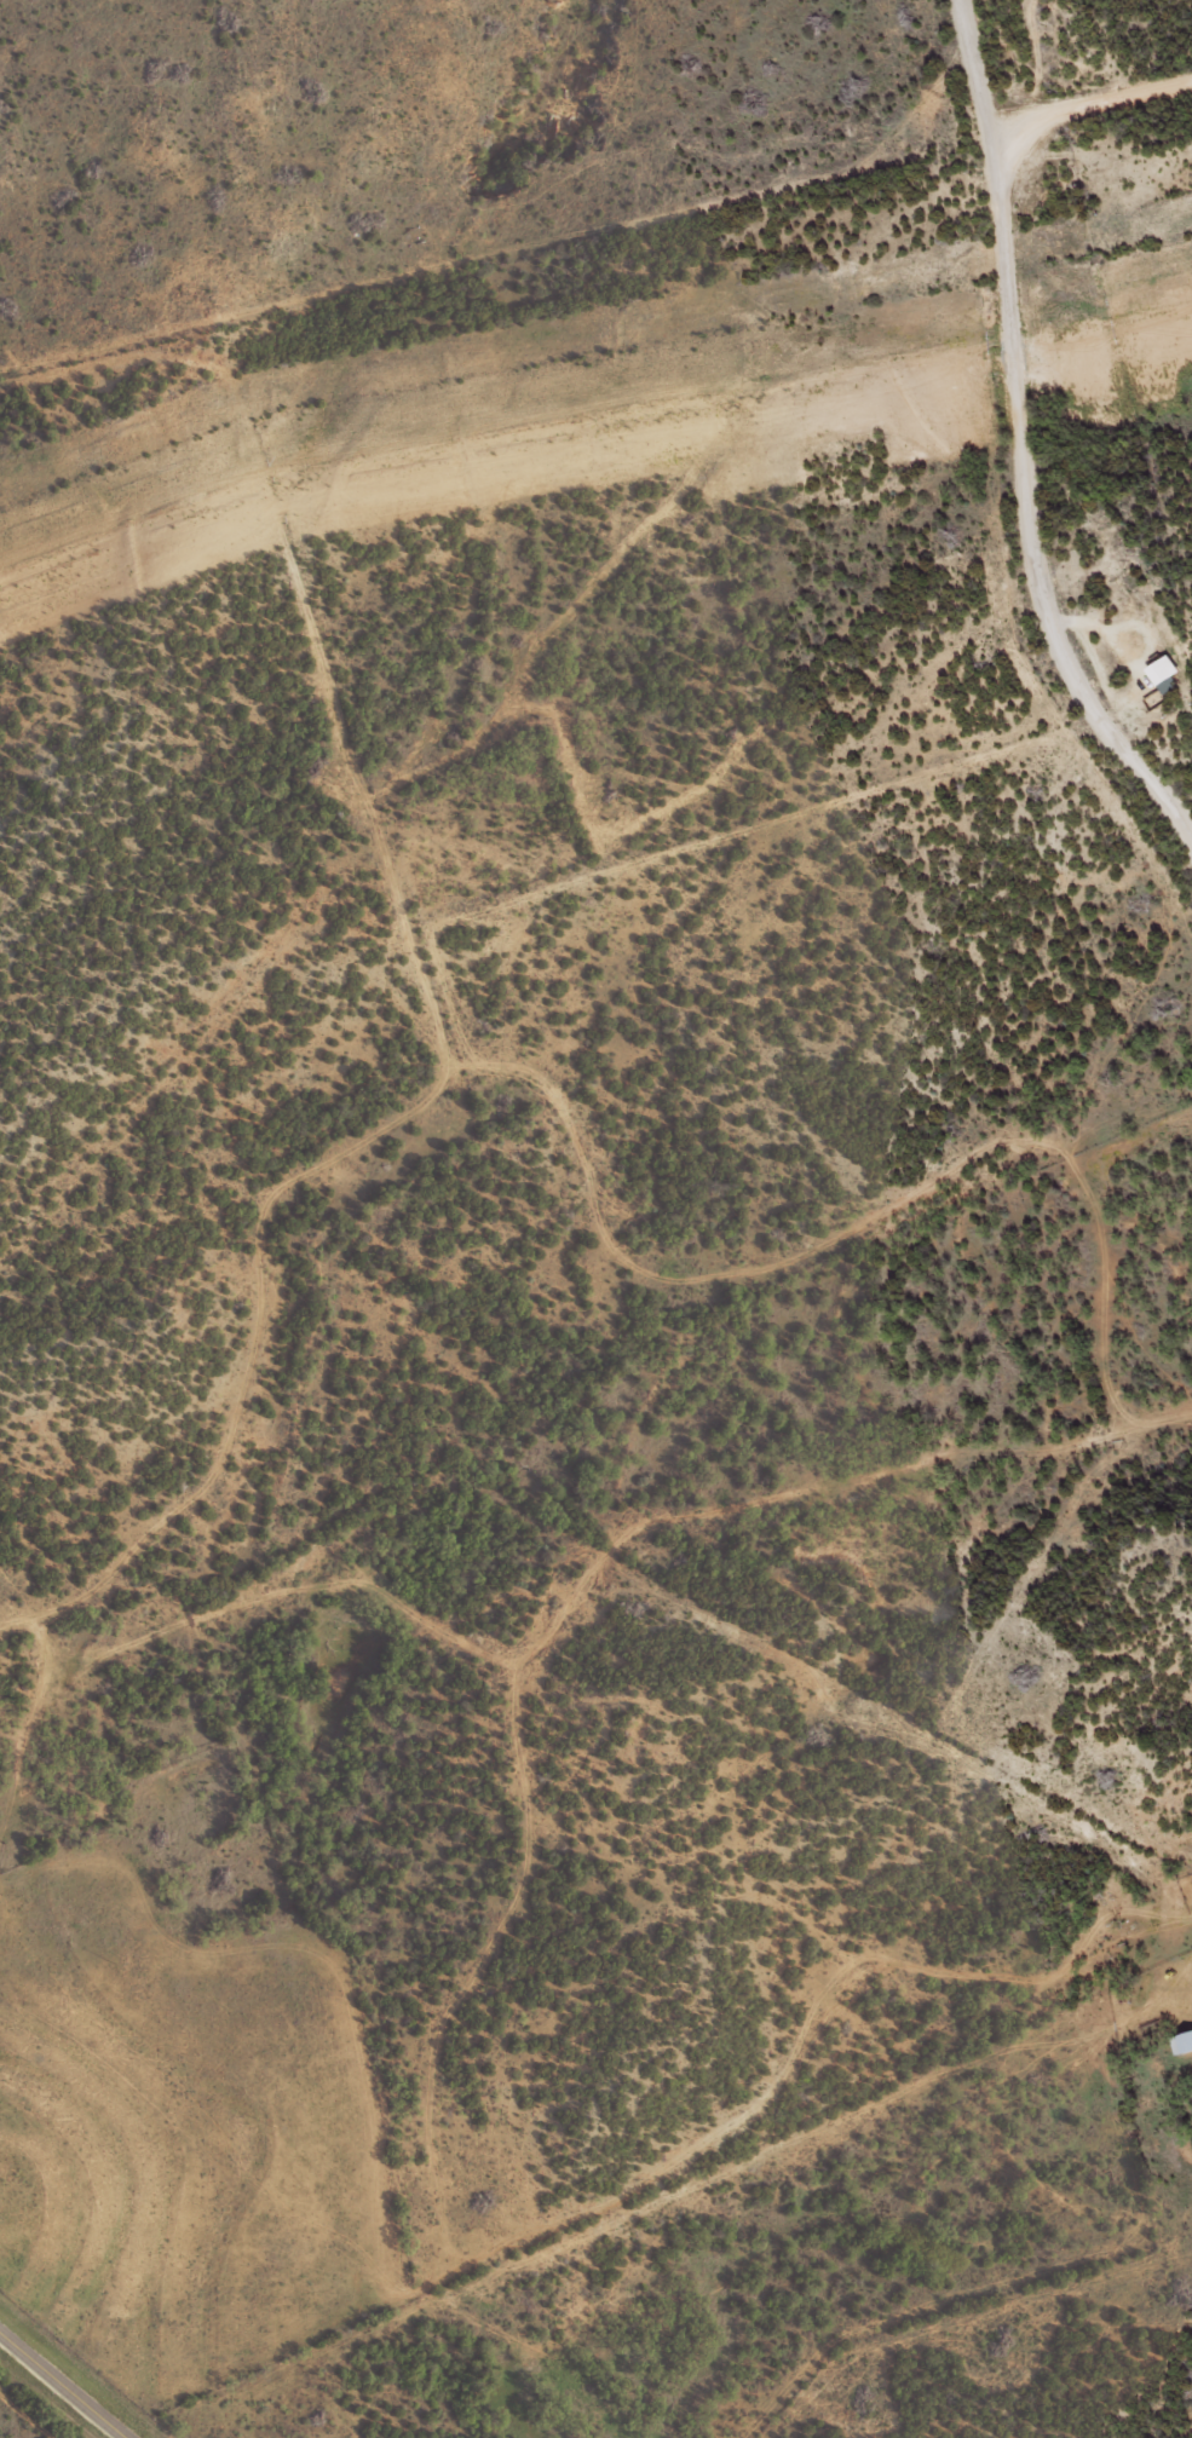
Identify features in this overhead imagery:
road: (1086, 111)
road: (1015, 437)
building: (1163, 669)
road: (541, 1093)
building: (1182, 2042)
road: (62, 2386)

